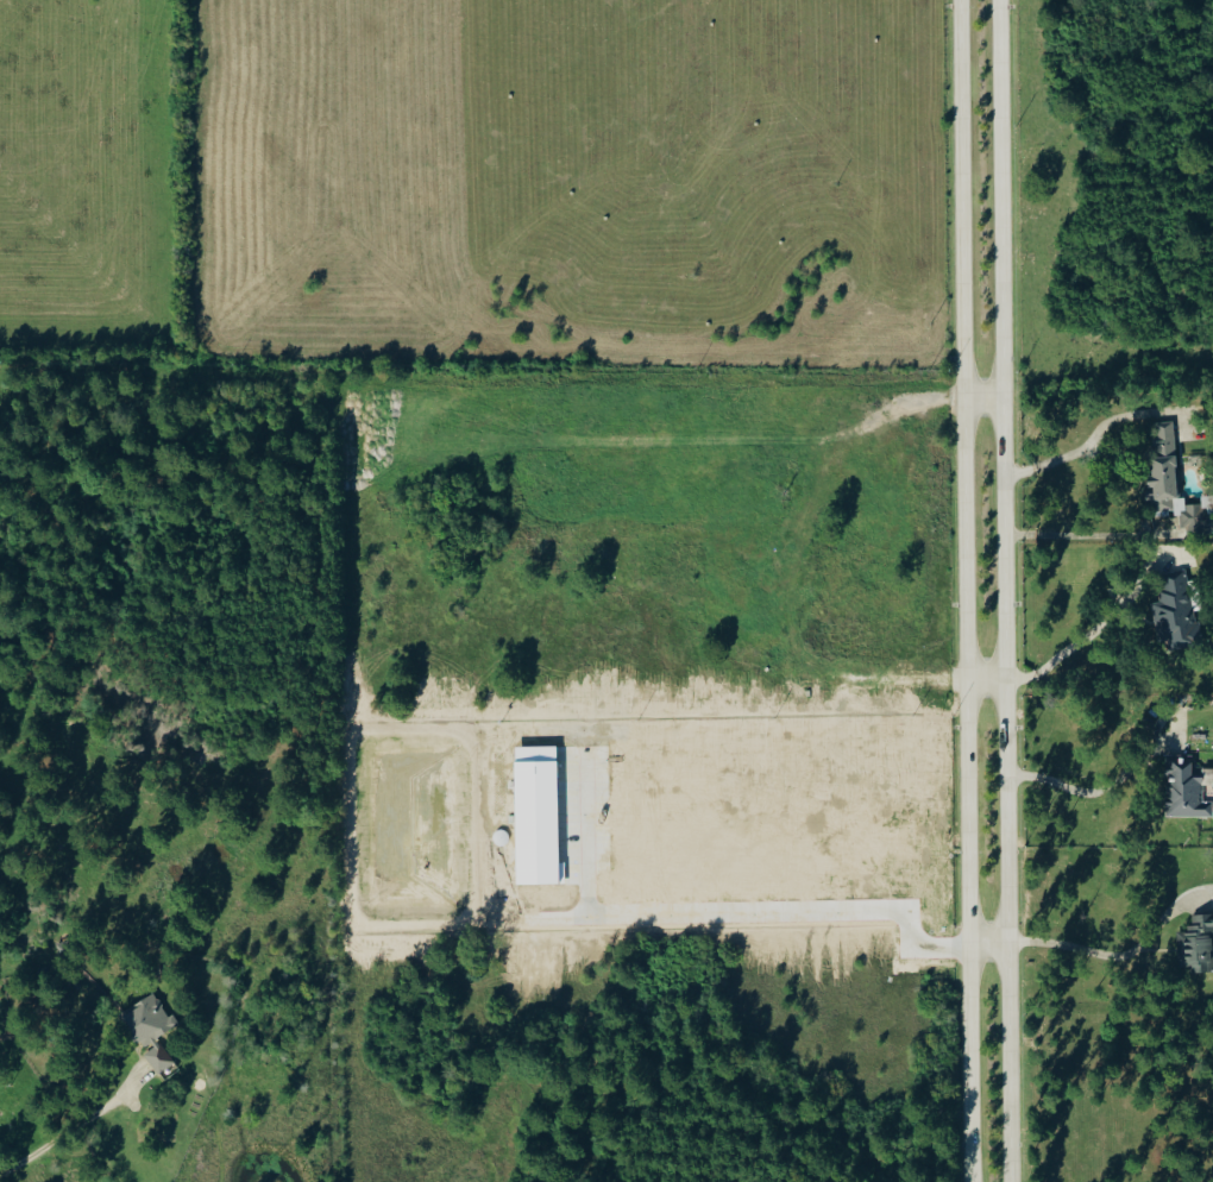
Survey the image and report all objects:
road: (983, 397)
road: (1050, 461)
building: (1173, 483)
road: (1083, 534)
road: (964, 591)
road: (1004, 591)
building: (1176, 615)
road: (1094, 630)
road: (986, 679)
building: (1186, 787)
road: (1094, 793)
road: (736, 913)
road: (988, 942)
building: (1196, 944)
road: (1114, 955)
building: (151, 1029)
road: (43, 1148)

